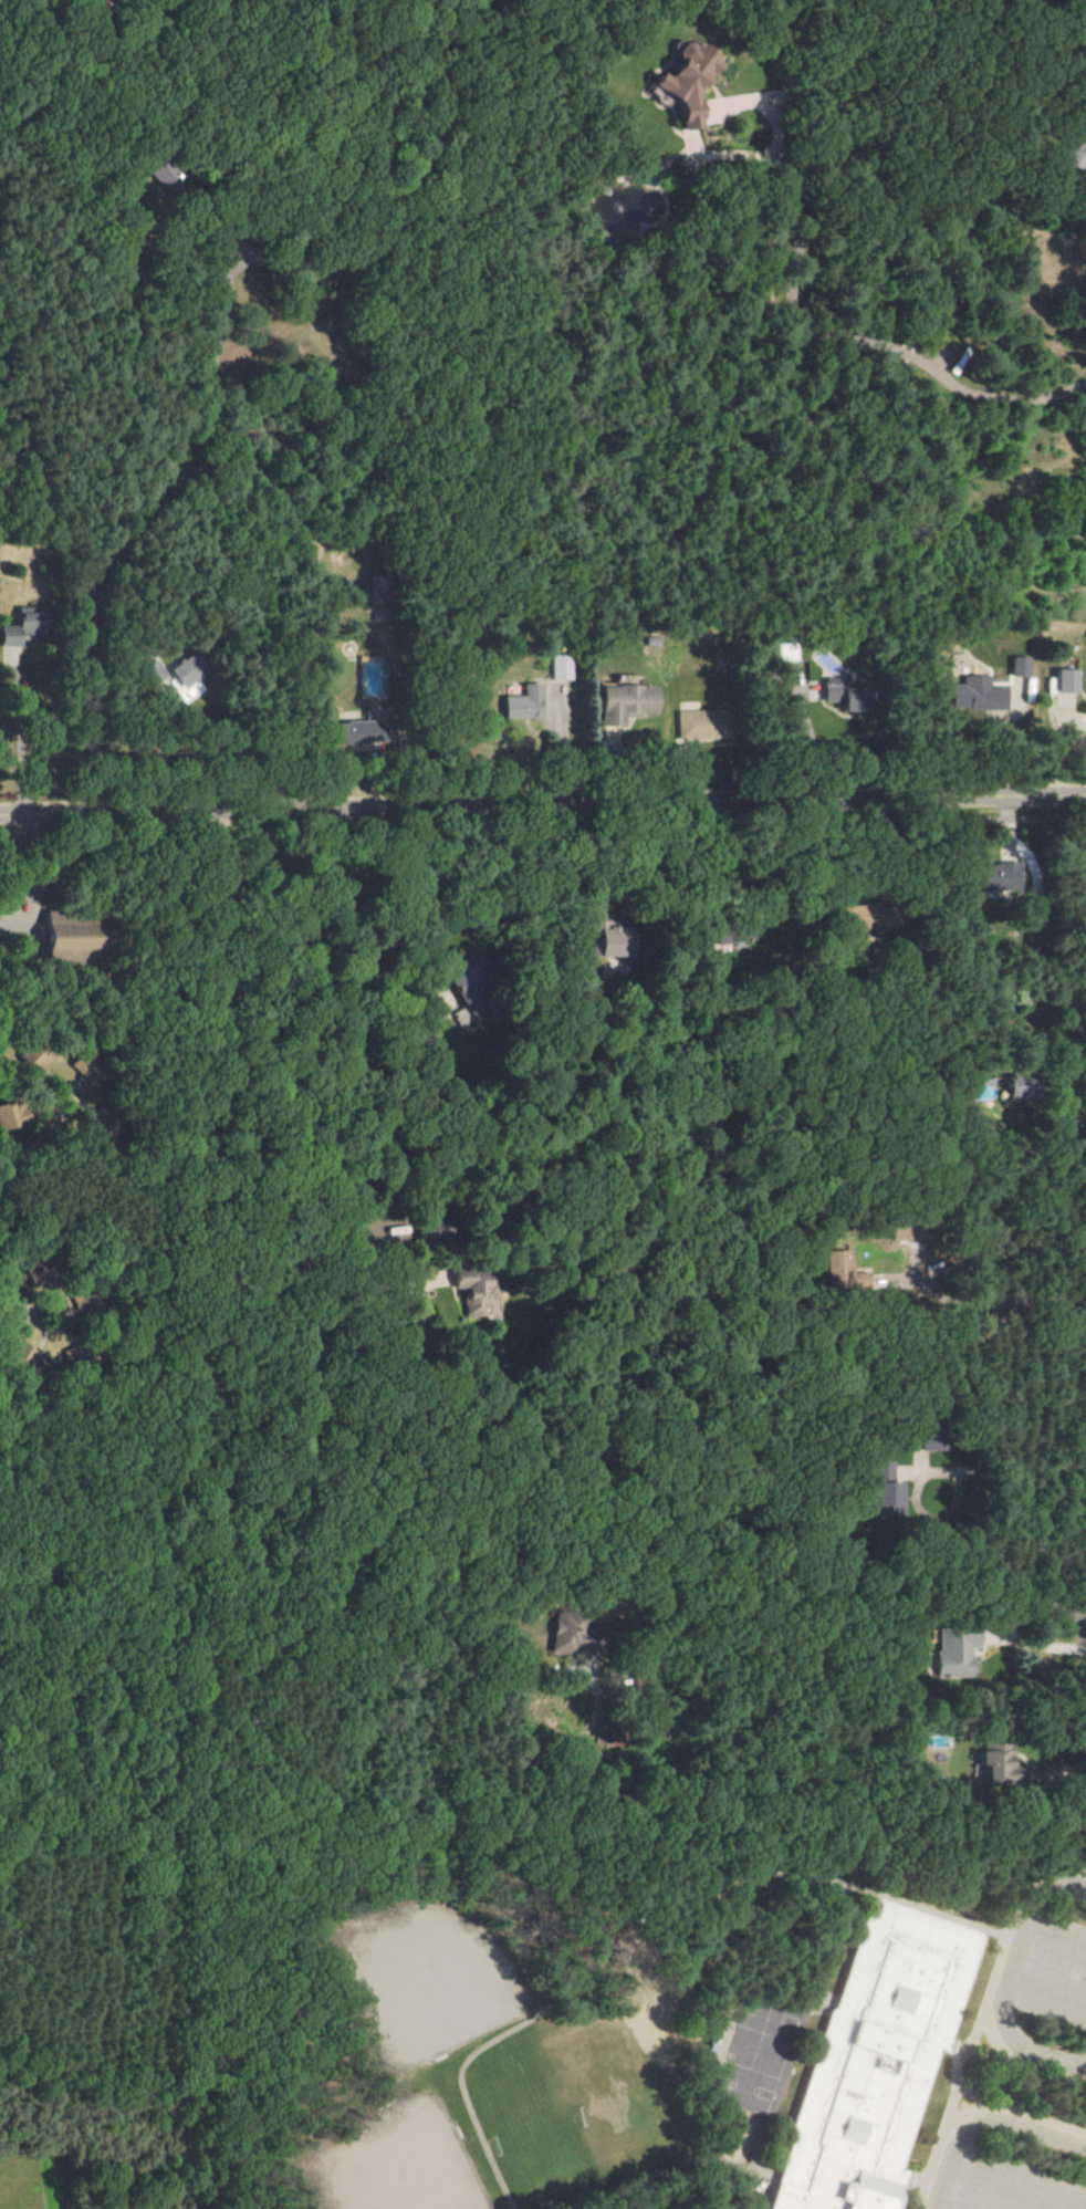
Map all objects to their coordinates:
building: (92, 0)
building: (690, 82)
building: (1077, 154)
building: (159, 176)
road: (866, 333)
road: (129, 527)
building: (17, 628)
building: (561, 667)
building: (1016, 667)
building: (174, 680)
building: (1062, 680)
building: (847, 694)
building: (526, 702)
building: (627, 702)
building: (699, 723)
building: (363, 727)
road: (19, 733)
road: (137, 753)
building: (347, 795)
road: (542, 804)
road: (542, 831)
road: (773, 858)
building: (1083, 866)
building: (991, 877)
road: (408, 896)
building: (69, 937)
building: (612, 942)
road: (1079, 1048)
building: (1019, 1088)
road: (215, 1098)
building: (11, 1114)
building: (846, 1273)
road: (981, 1280)
building: (476, 1292)
building: (21, 1355)
road: (1017, 1469)
building: (884, 1486)
building: (567, 1634)
road: (1042, 1645)
building: (954, 1654)
building: (999, 1762)
road: (1064, 1771)
road: (1056, 1941)
road: (1020, 1951)
road: (1020, 2042)
building: (876, 2056)
road: (986, 2124)
road: (1019, 2186)

